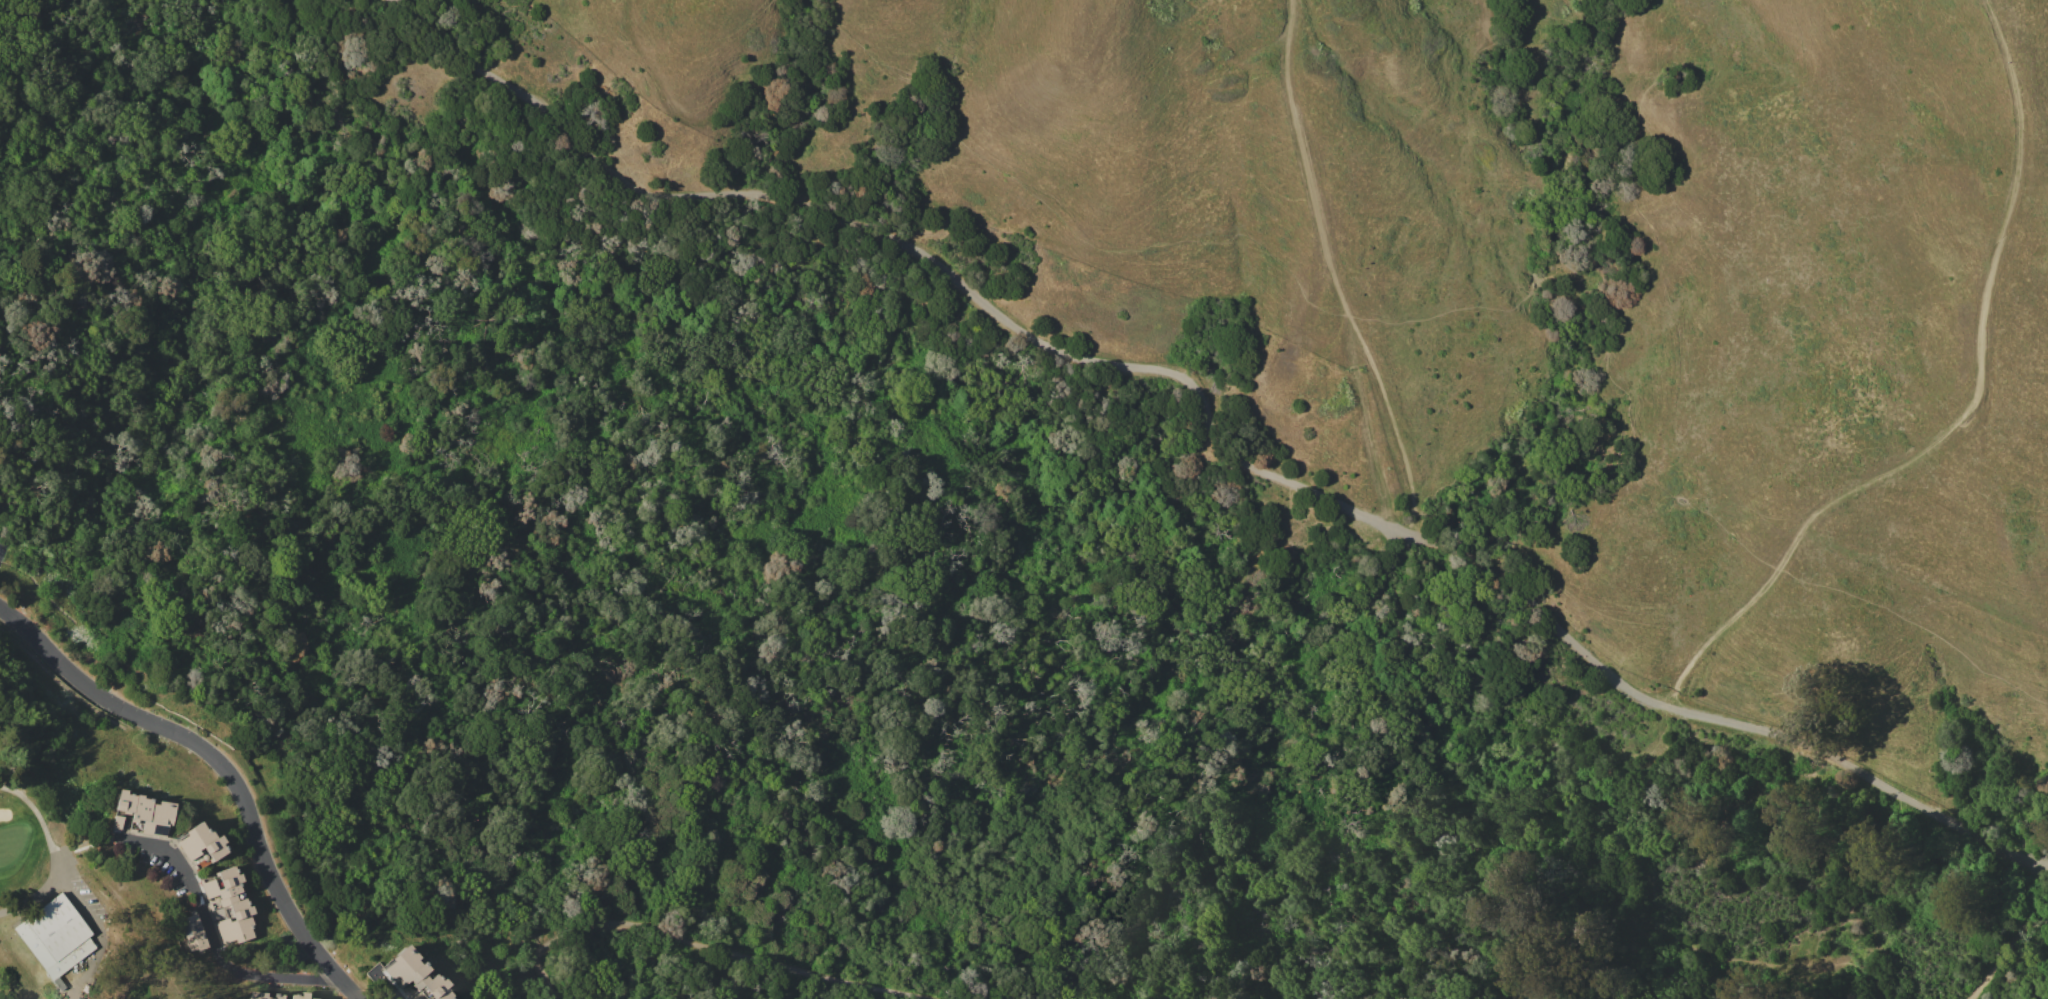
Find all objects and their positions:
road: (918, 251)
road: (1333, 274)
road: (1967, 415)
road: (1368, 425)
road: (1720, 720)
road: (221, 764)
road: (1505, 797)
building: (142, 815)
building: (202, 843)
building: (195, 866)
road: (2030, 879)
building: (222, 886)
road: (2024, 905)
park: (69, 919)
building: (236, 922)
building: (191, 935)
building: (55, 938)
road: (209, 939)
road: (704, 946)
road: (1993, 959)
building: (403, 969)
building: (436, 987)
building: (86, 988)
road: (389, 988)
building: (407, 994)
building: (263, 995)
building: (297, 996)
building: (81, 998)

